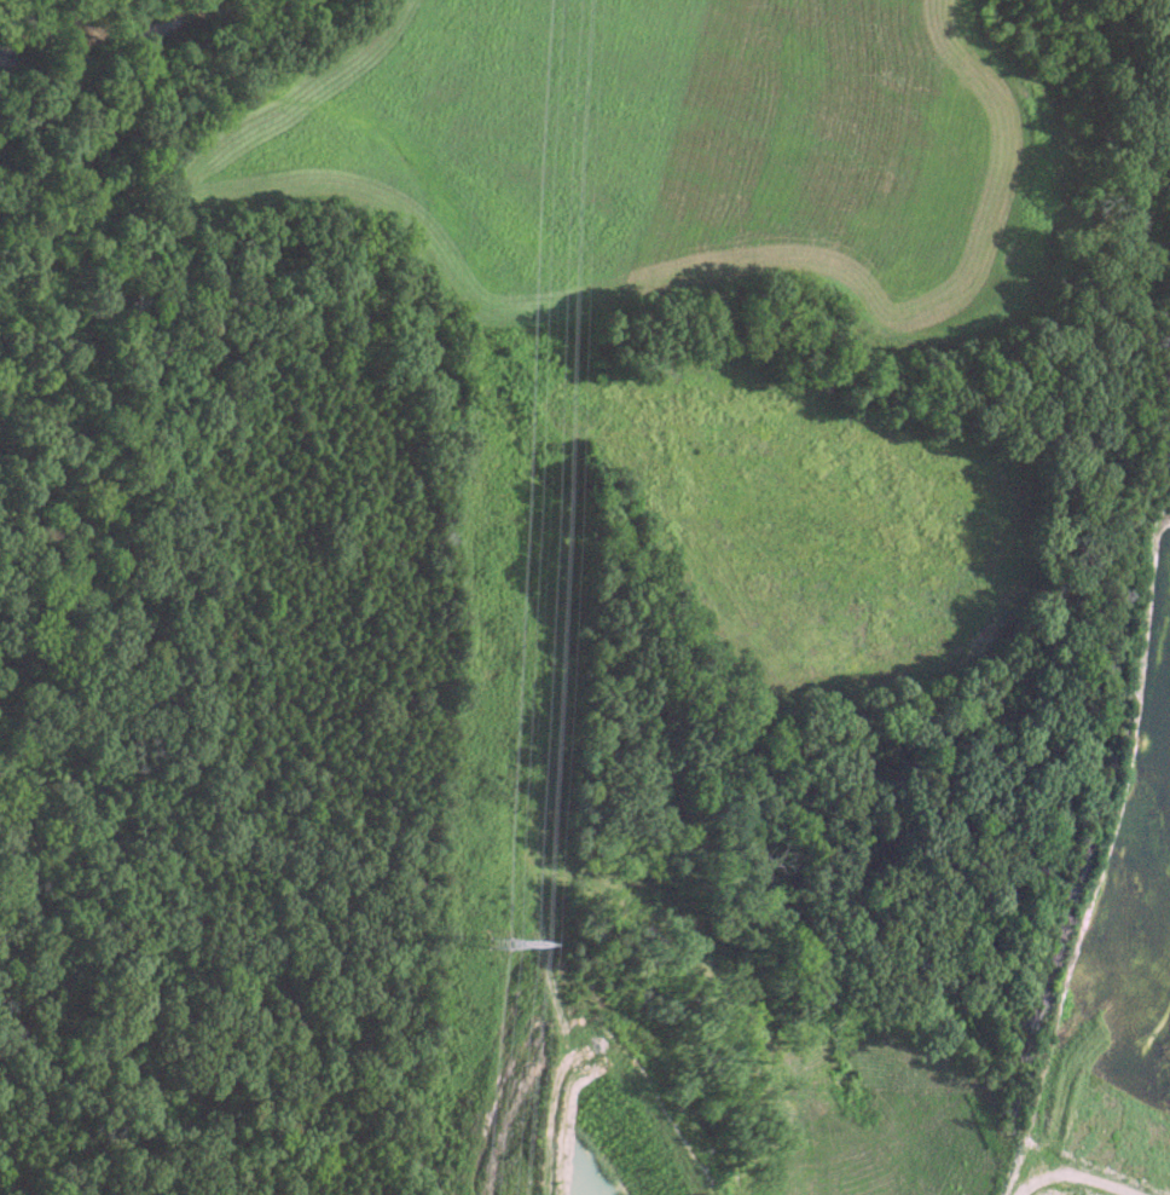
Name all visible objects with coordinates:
power tower: (497, 942)

